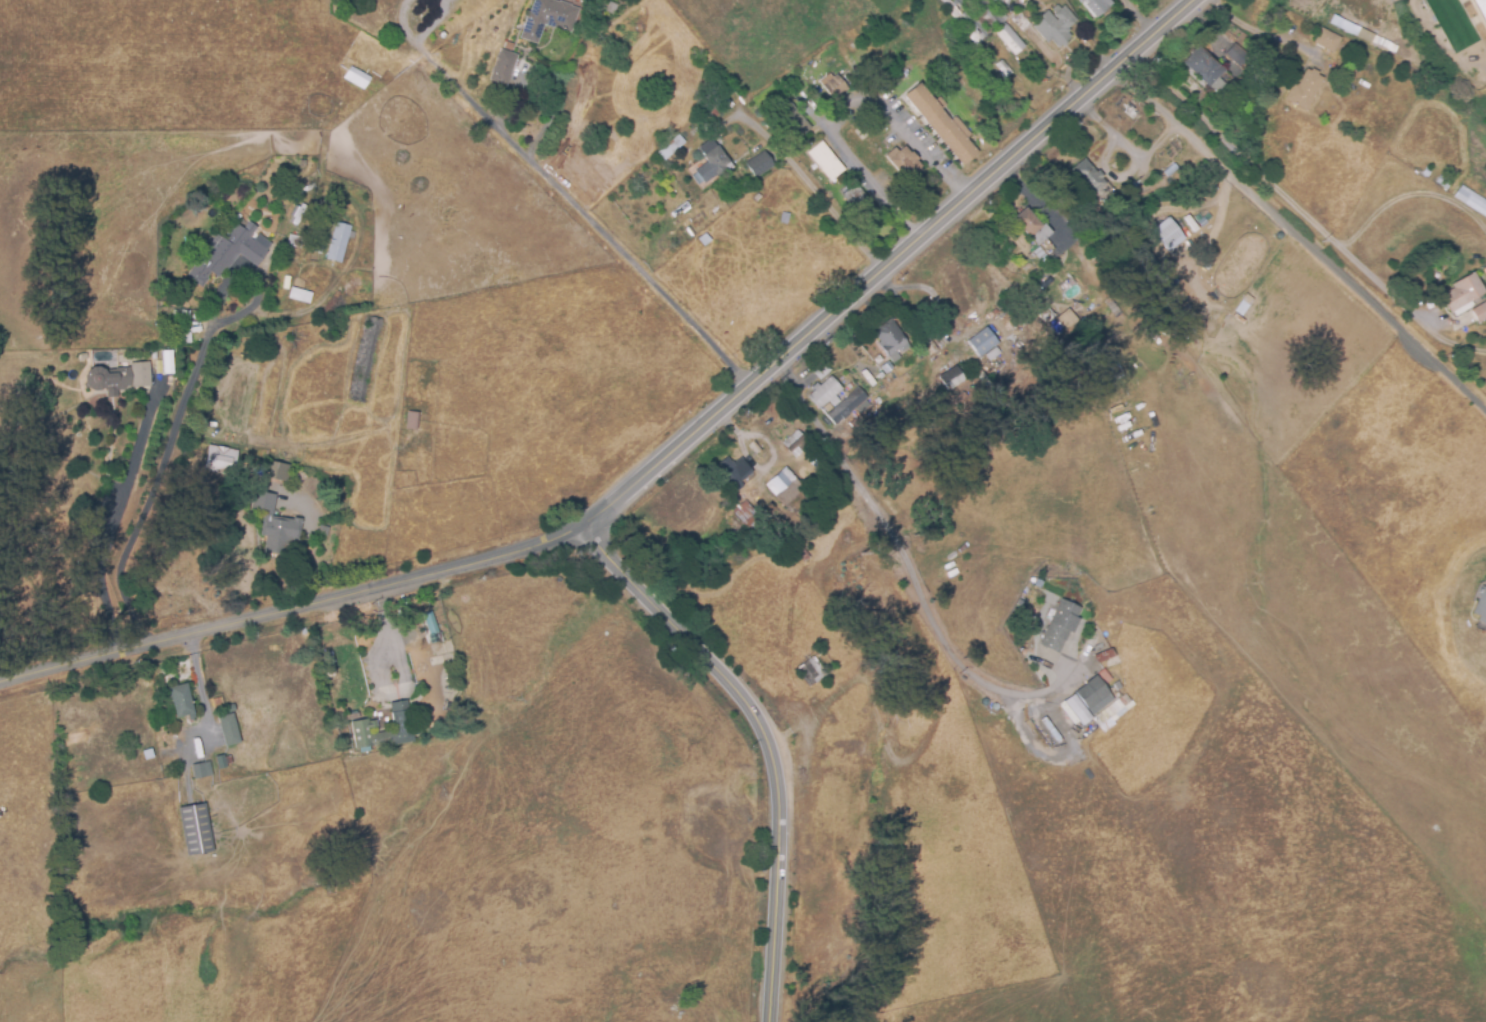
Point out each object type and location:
building: (1001, 3)
building: (1097, 6)
building: (611, 8)
building: (1481, 9)
building: (1009, 11)
building: (548, 18)
building: (976, 18)
road: (404, 21)
building: (1021, 21)
road: (435, 22)
building: (1055, 26)
road: (1258, 31)
building: (1011, 40)
building: (1327, 40)
building: (1235, 53)
building: (505, 66)
building: (1004, 68)
building: (1205, 68)
building: (358, 75)
building: (897, 79)
building: (720, 81)
building: (833, 86)
building: (1304, 89)
road: (843, 107)
building: (714, 112)
building: (791, 119)
building: (671, 122)
building: (942, 124)
building: (614, 134)
building: (721, 144)
road: (1233, 150)
building: (665, 153)
building: (715, 158)
building: (825, 161)
building: (903, 162)
building: (759, 164)
building: (1426, 171)
building: (1088, 177)
road: (805, 178)
building: (1442, 183)
road: (1410, 194)
building: (1471, 200)
building: (860, 203)
road: (583, 213)
building: (1034, 230)
building: (1168, 234)
road: (1298, 239)
building: (339, 240)
building: (231, 250)
building: (1040, 254)
road: (886, 264)
building: (1462, 292)
building: (298, 295)
road: (1410, 308)
building: (1479, 312)
building: (1046, 314)
building: (187, 319)
building: (1068, 319)
building: (890, 340)
building: (188, 341)
building: (985, 346)
building: (929, 347)
building: (366, 358)
building: (167, 363)
building: (886, 367)
building: (1114, 367)
building: (120, 375)
building: (951, 378)
building: (825, 393)
building: (846, 406)
road: (182, 409)
building: (414, 423)
building: (806, 450)
building: (223, 459)
building: (274, 472)
building: (734, 473)
building: (784, 487)
road: (115, 516)
building: (277, 524)
road: (900, 544)
building: (1481, 605)
road: (294, 609)
building: (1060, 626)
building: (1103, 657)
road: (383, 663)
building: (810, 672)
building: (184, 700)
building: (1086, 700)
building: (361, 725)
building: (226, 730)
road: (761, 738)
building: (146, 755)
building: (221, 763)
building: (201, 772)
building: (193, 830)

